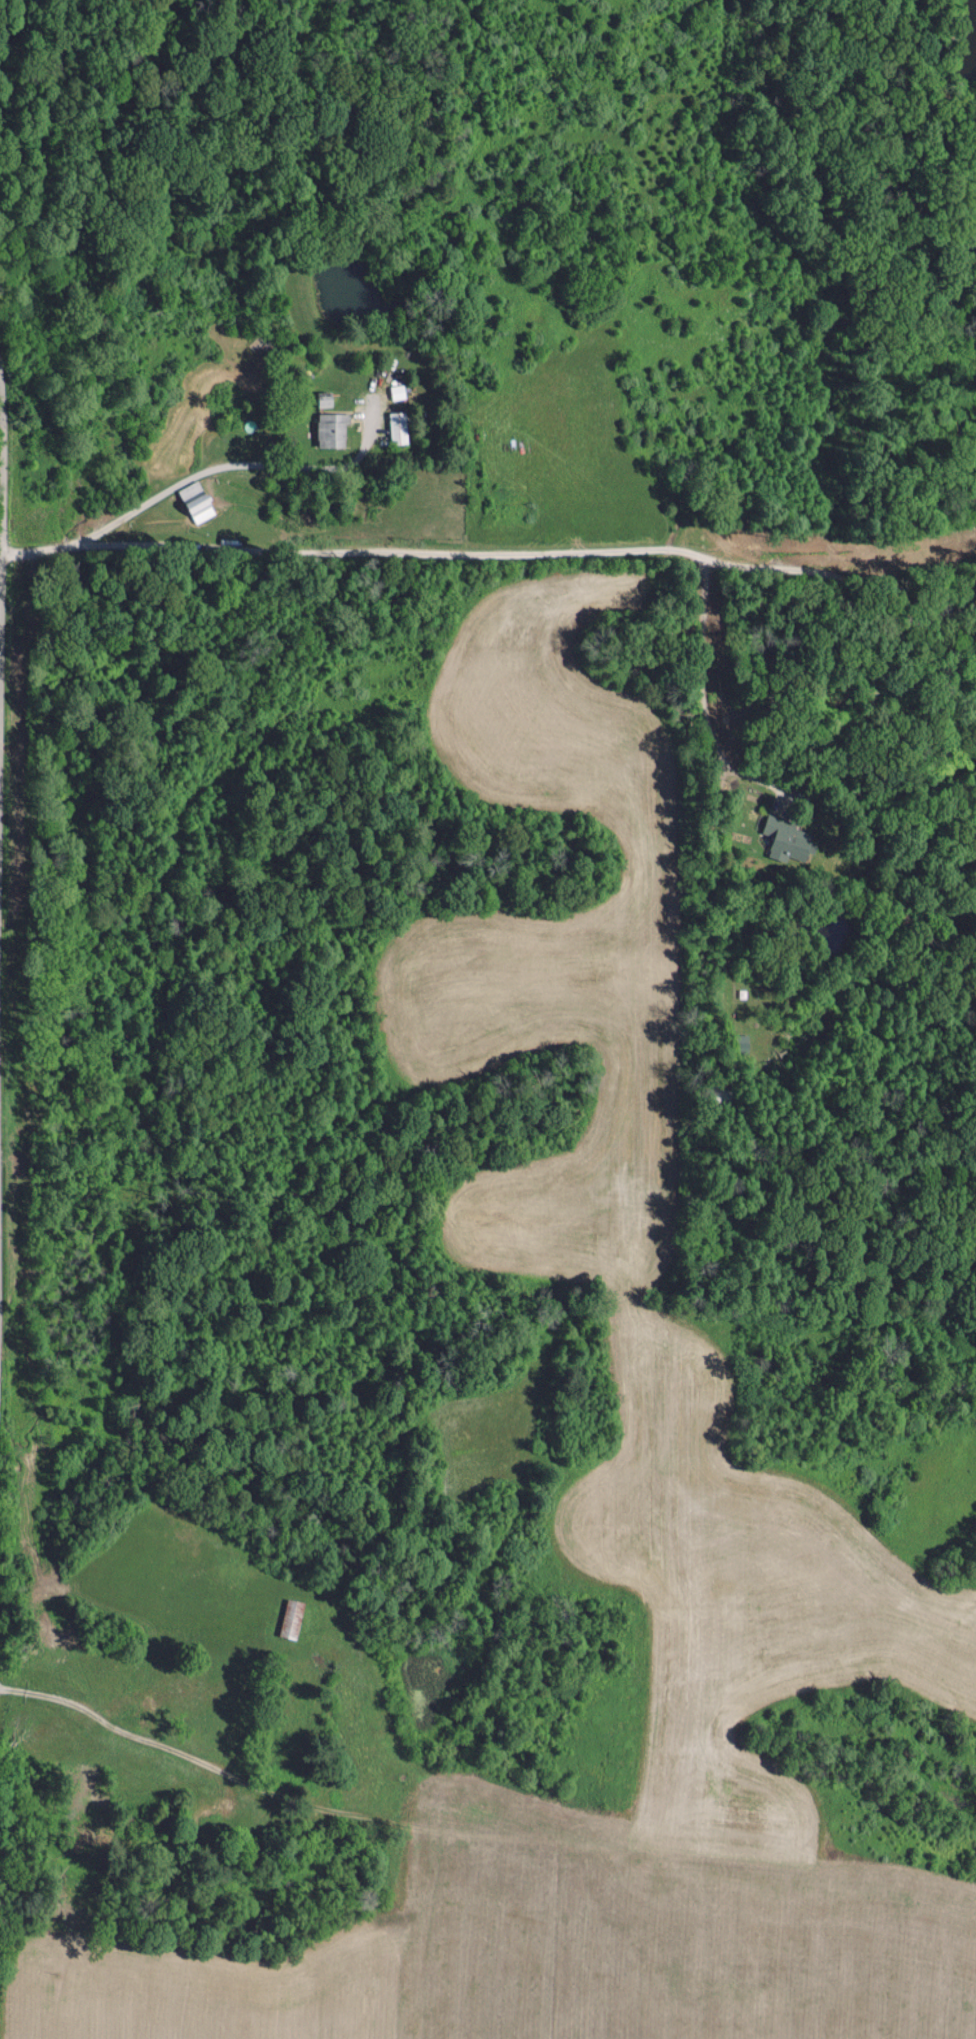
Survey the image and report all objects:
building: (397, 392)
building: (397, 427)
building: (332, 430)
road: (203, 470)
road: (1, 473)
building: (195, 497)
road: (497, 555)
road: (685, 693)
building: (787, 841)
building: (292, 1618)

